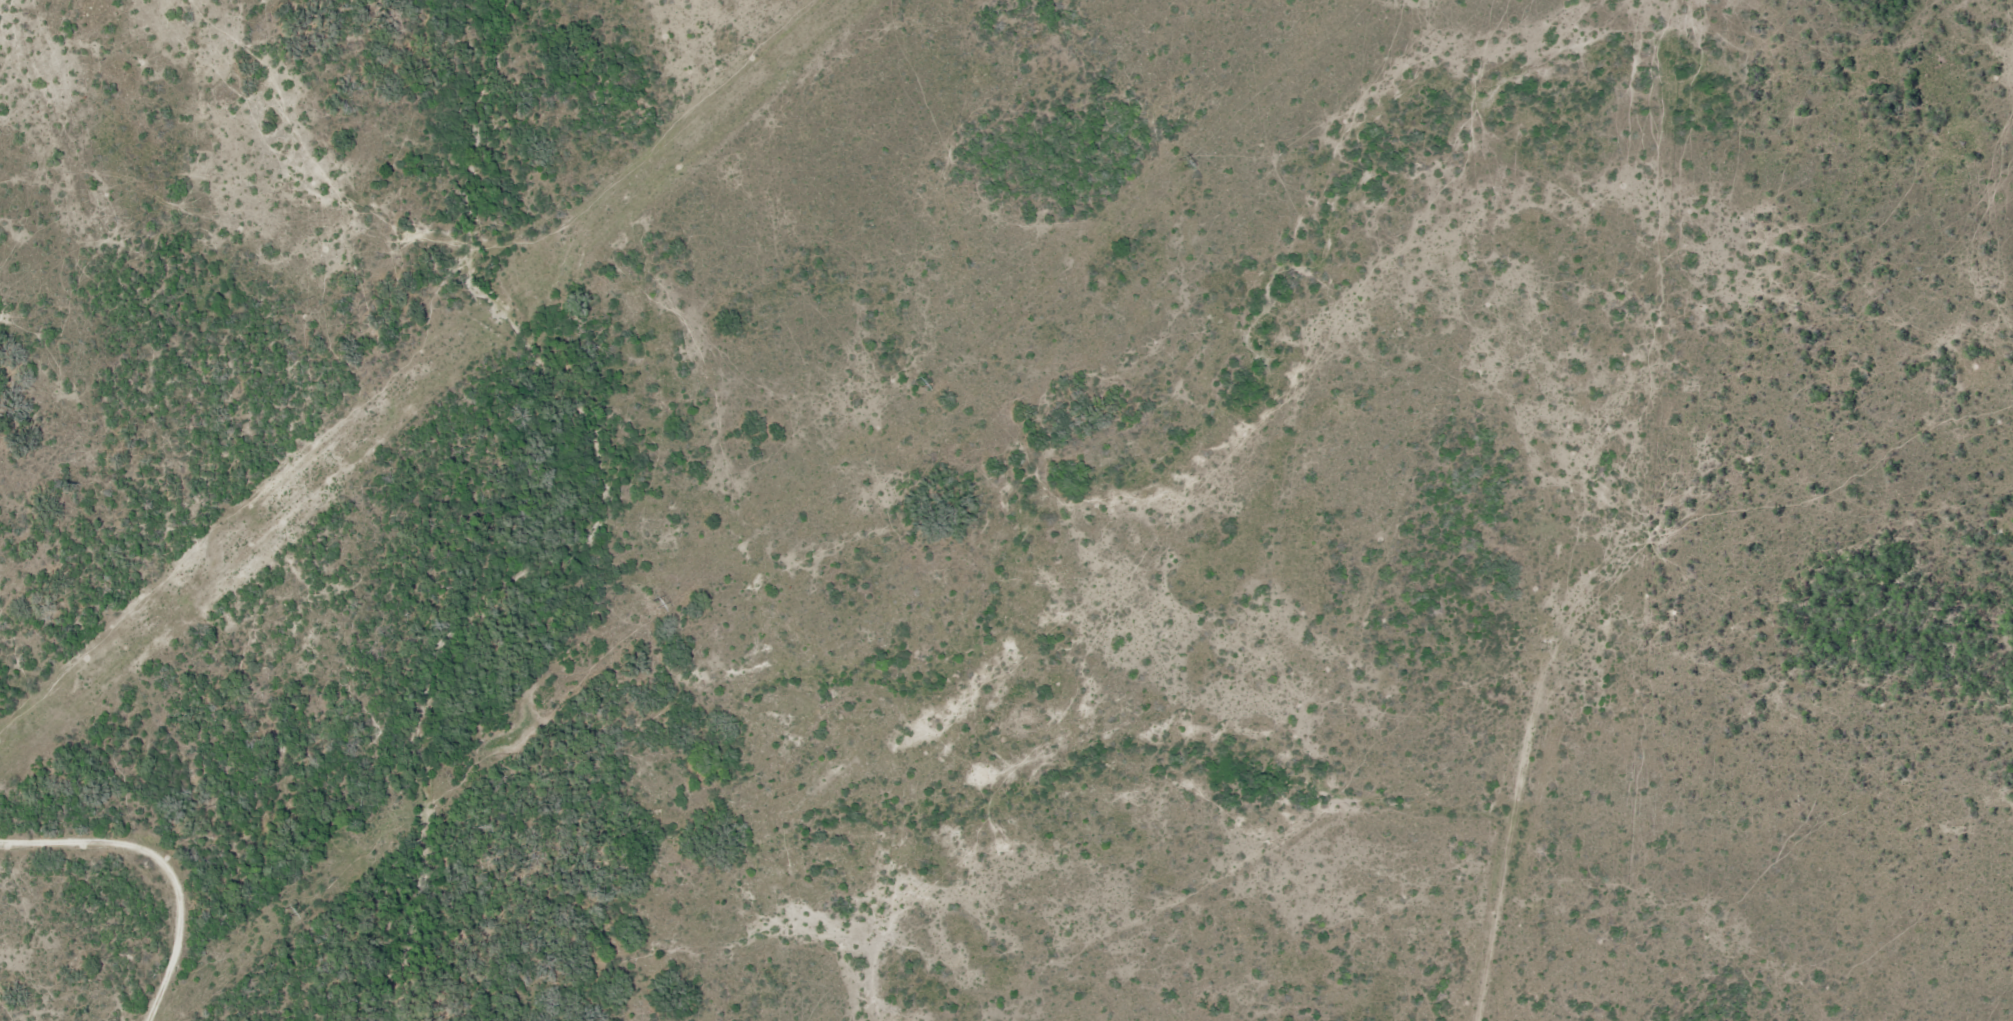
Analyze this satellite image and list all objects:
power tower: (1180, 162)
power tower: (917, 384)
power tower: (654, 603)
road: (116, 906)
power tower: (288, 910)

